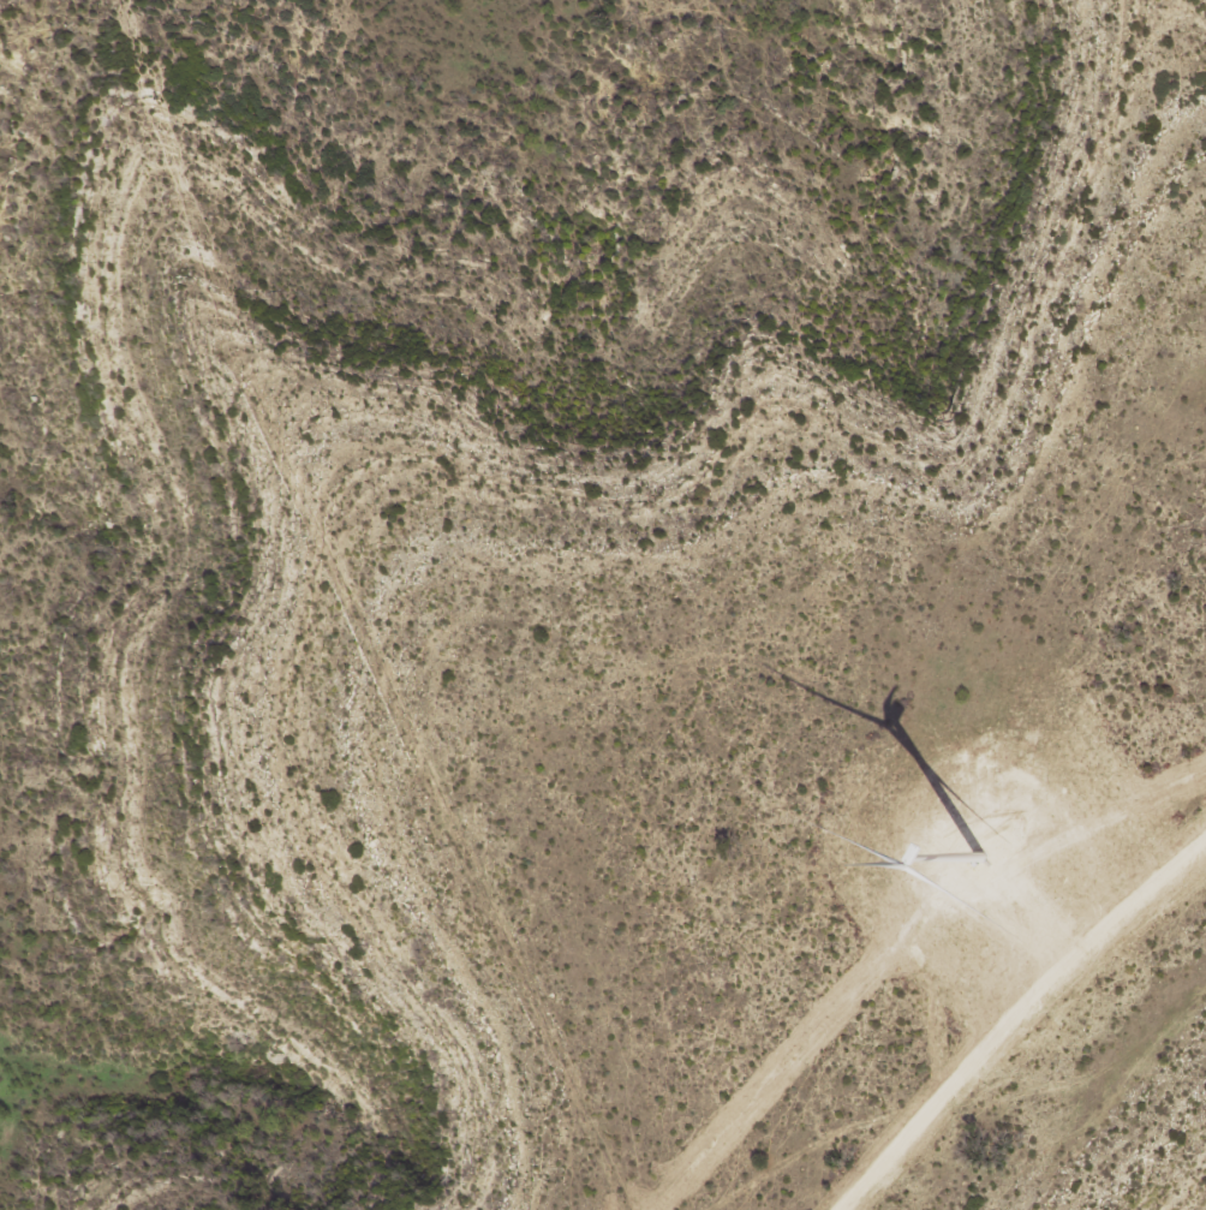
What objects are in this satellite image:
wind turbine: (979, 859)

